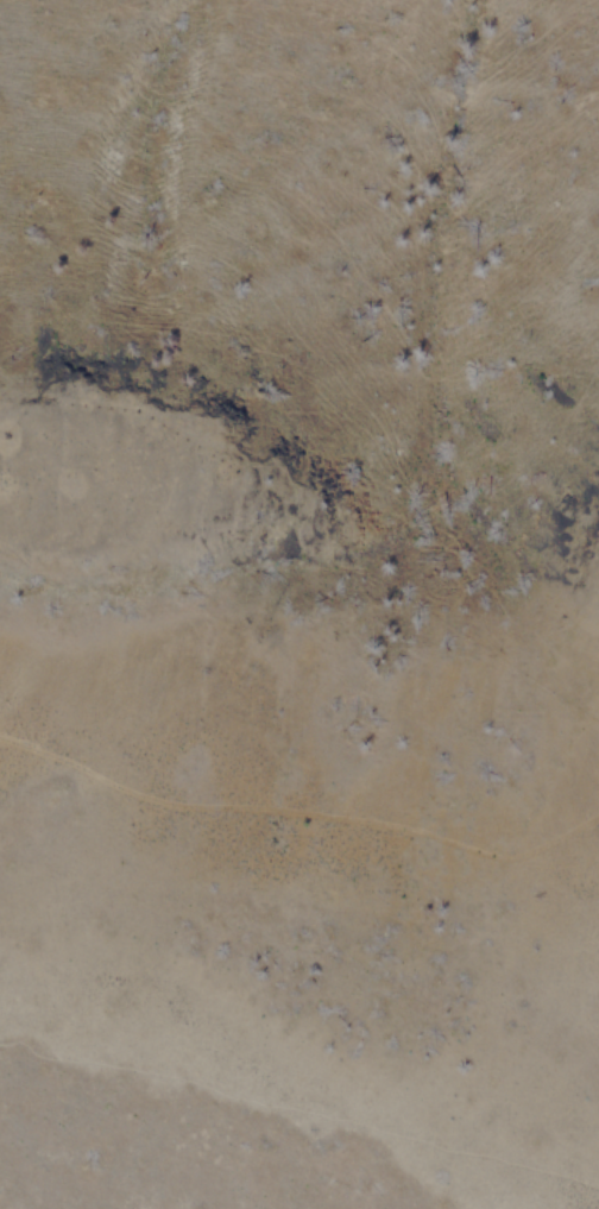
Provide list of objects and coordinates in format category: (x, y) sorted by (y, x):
road: (296, 1109)

